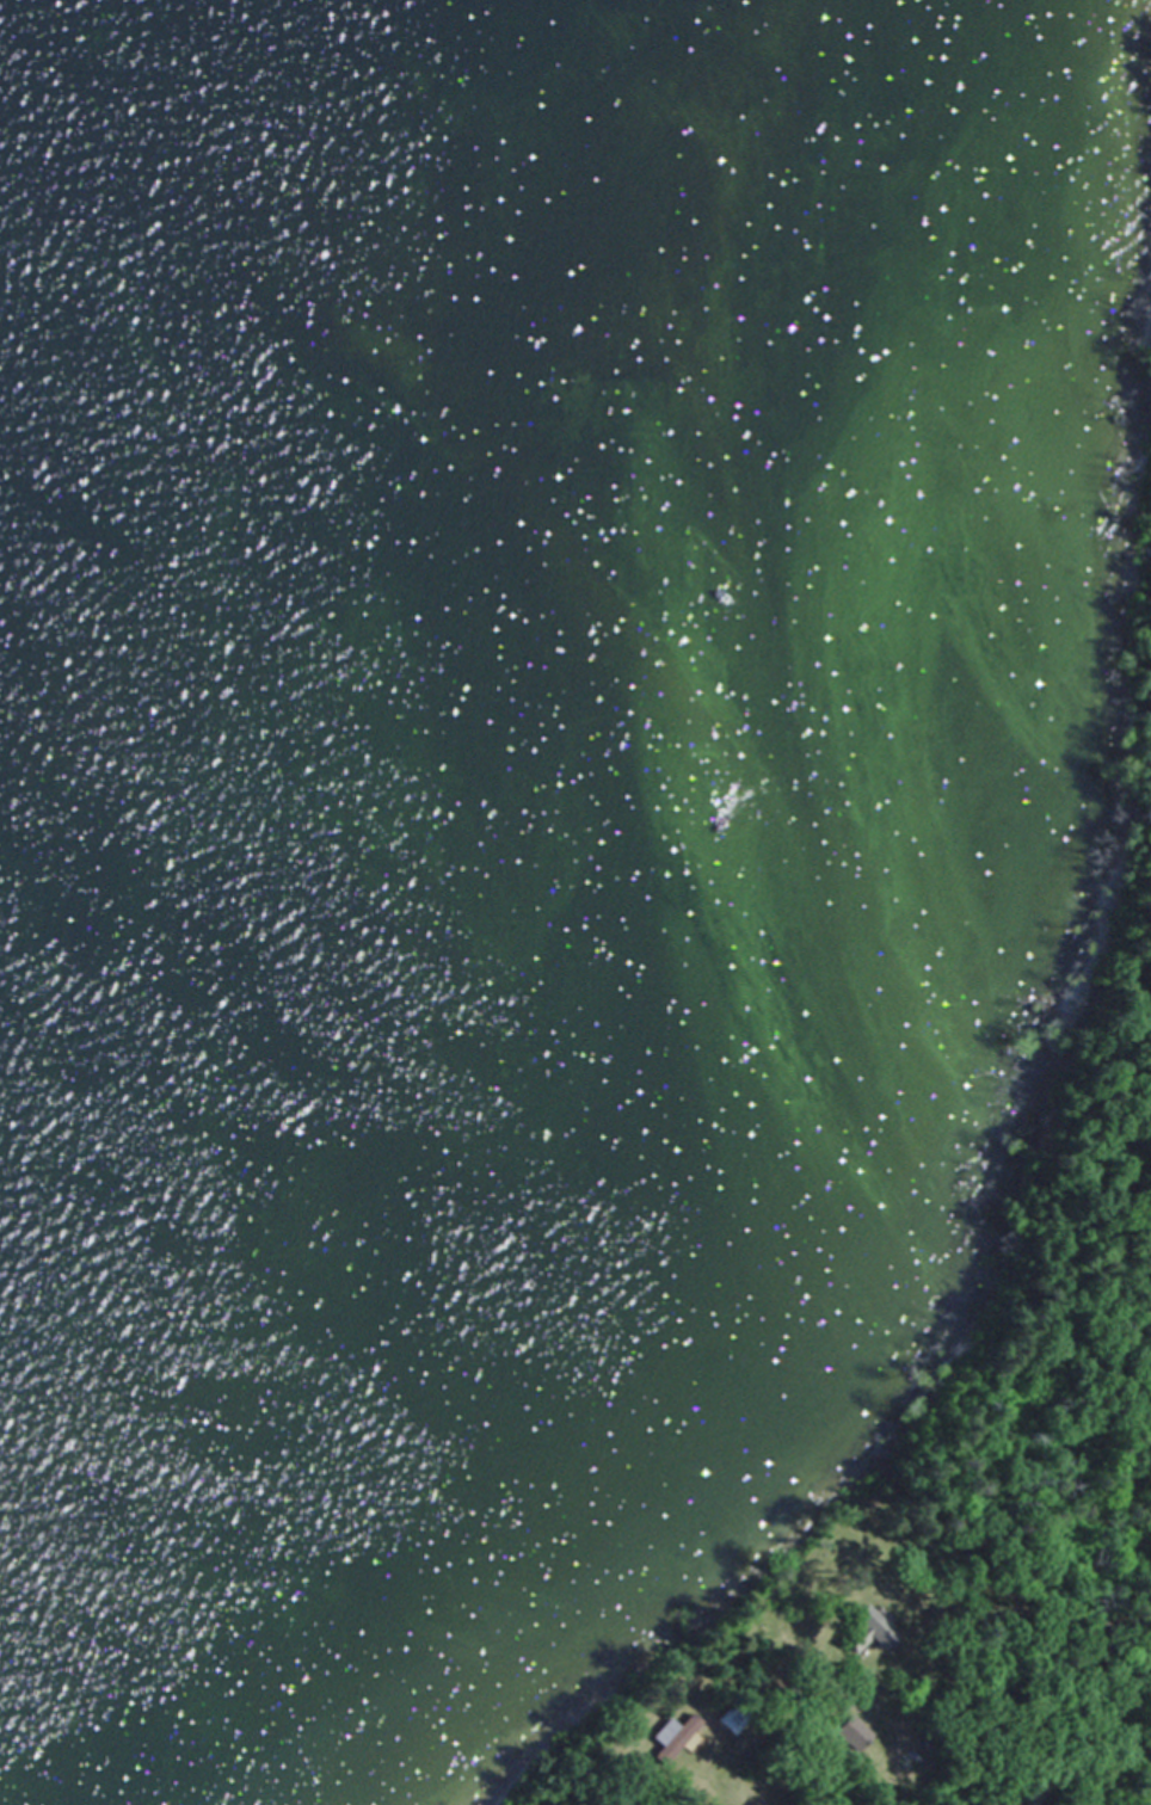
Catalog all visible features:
road: (1046, 1536)
building: (868, 1626)
road: (940, 1668)
building: (660, 1732)
road: (1094, 1733)

